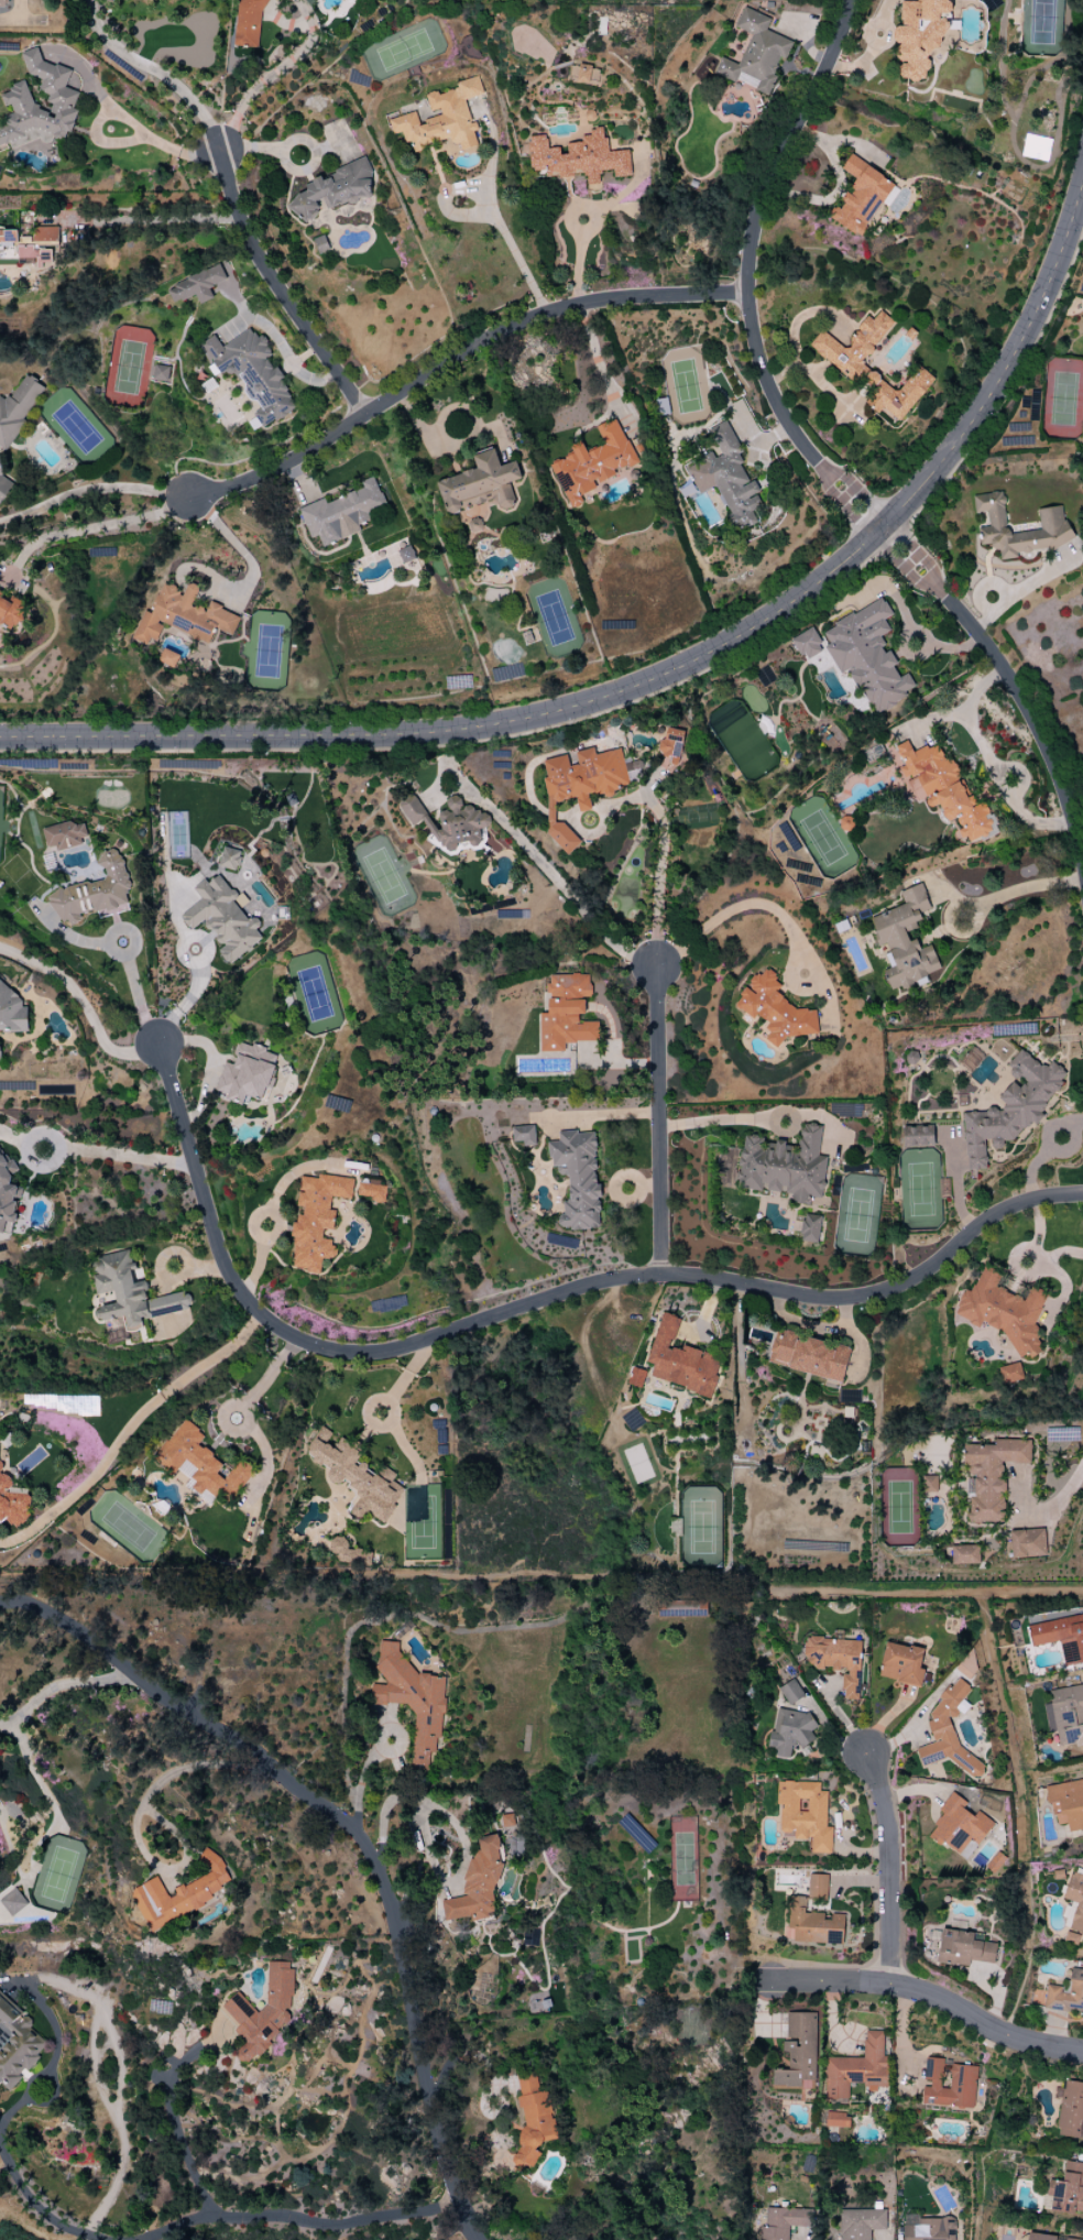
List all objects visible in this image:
building: (2, 3)
building: (248, 23)
building: (919, 34)
building: (755, 54)
road: (156, 72)
road: (270, 73)
building: (582, 74)
building: (17, 98)
building: (441, 118)
road: (161, 140)
building: (579, 159)
building: (332, 189)
building: (860, 196)
road: (166, 218)
building: (26, 241)
road: (753, 244)
road: (515, 259)
road: (576, 265)
building: (196, 286)
road: (278, 295)
road: (456, 365)
road: (600, 369)
building: (855, 371)
road: (1007, 371)
building: (160, 372)
building: (251, 372)
road: (810, 374)
building: (17, 408)
building: (592, 462)
building: (726, 478)
building: (3, 485)
road: (91, 490)
road: (857, 507)
building: (341, 513)
building: (1051, 520)
road: (97, 526)
road: (238, 549)
road: (899, 550)
building: (405, 554)
building: (10, 611)
road: (905, 614)
building: (182, 615)
building: (807, 644)
building: (866, 655)
building: (167, 658)
road: (1025, 702)
road: (467, 731)
building: (669, 749)
road: (987, 763)
building: (579, 787)
building: (941, 789)
building: (447, 821)
building: (844, 823)
building: (64, 834)
road: (661, 840)
building: (228, 859)
road: (545, 870)
road: (1017, 889)
building: (92, 892)
road: (780, 916)
building: (222, 918)
building: (905, 940)
road: (655, 950)
road: (136, 996)
road: (187, 1001)
road: (83, 1005)
building: (774, 1009)
building: (11, 1012)
building: (565, 1013)
building: (0, 1055)
building: (247, 1073)
road: (786, 1108)
building: (1010, 1108)
road: (603, 1117)
road: (824, 1117)
road: (656, 1121)
road: (712, 1121)
building: (523, 1135)
building: (917, 1136)
road: (118, 1157)
building: (783, 1166)
road: (291, 1176)
building: (577, 1177)
road: (648, 1184)
road: (955, 1185)
building: (371, 1191)
building: (7, 1194)
road: (634, 1199)
building: (315, 1220)
road: (251, 1226)
building: (810, 1228)
road: (255, 1269)
road: (206, 1270)
road: (169, 1280)
building: (130, 1292)
road: (534, 1304)
building: (1003, 1312)
building: (807, 1355)
building: (680, 1361)
building: (1010, 1373)
building: (636, 1377)
road: (128, 1428)
building: (199, 1464)
building: (355, 1476)
building: (988, 1476)
building: (929, 1484)
road: (1059, 1501)
building: (12, 1503)
building: (1027, 1543)
building: (963, 1554)
road: (541, 1575)
building: (1061, 1637)
building: (835, 1660)
building: (900, 1664)
road: (57, 1686)
building: (790, 1692)
building: (1064, 1715)
building: (789, 1730)
building: (948, 1733)
road: (360, 1780)
road: (423, 1804)
building: (1066, 1804)
building: (803, 1814)
road: (134, 1816)
building: (958, 1825)
road: (354, 1833)
road: (891, 1869)
building: (477, 1883)
building: (817, 1887)
building: (179, 1893)
building: (12, 1902)
building: (1073, 1908)
building: (811, 1924)
building: (963, 1948)
road: (923, 1993)
building: (261, 2012)
road: (109, 2031)
building: (15, 2045)
building: (798, 2051)
building: (856, 2068)
road: (30, 2080)
building: (947, 2084)
road: (11, 2110)
building: (1071, 2111)
building: (532, 2120)
building: (836, 2120)
road: (176, 2130)
building: (1066, 2189)
road: (208, 2215)
building: (783, 2222)
building: (860, 2223)
building: (927, 2228)
building: (1044, 2237)

